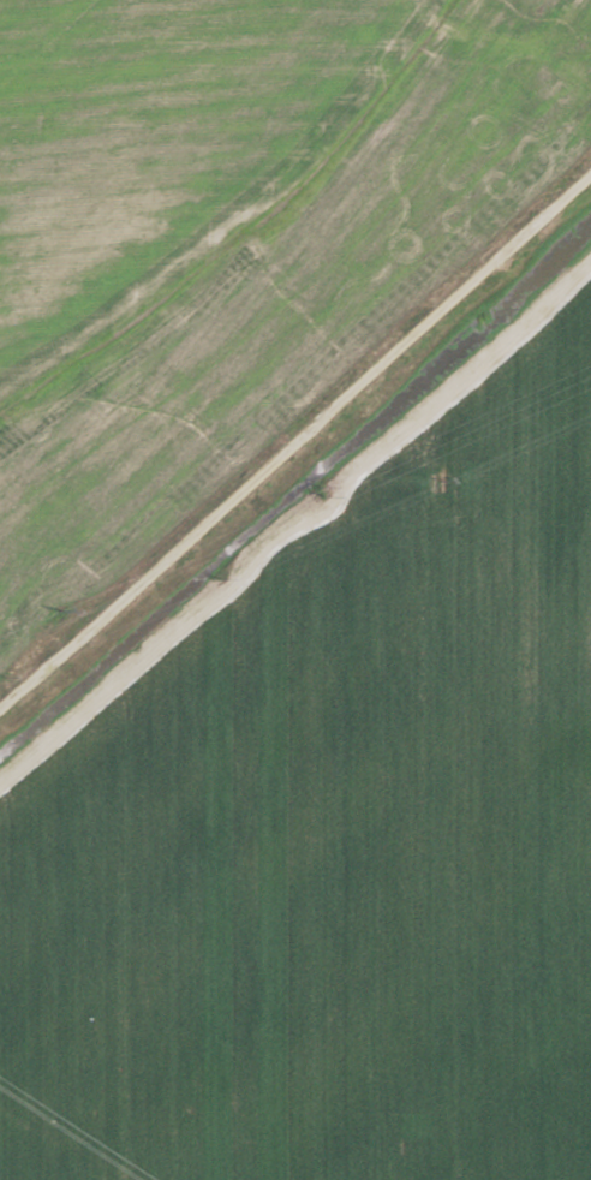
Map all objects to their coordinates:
road: (295, 439)

